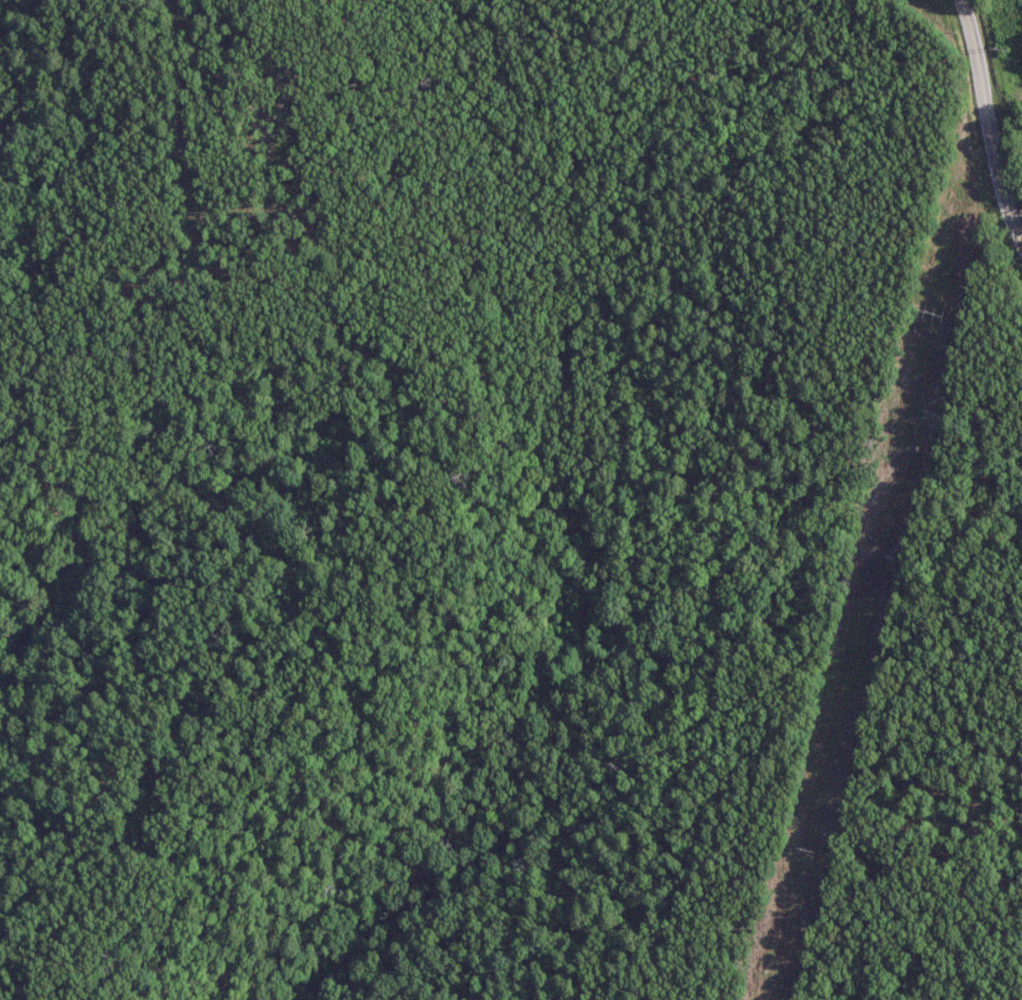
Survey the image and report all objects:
power tower: (998, 48)
road: (988, 122)
power tower: (934, 313)
power tower: (804, 850)

